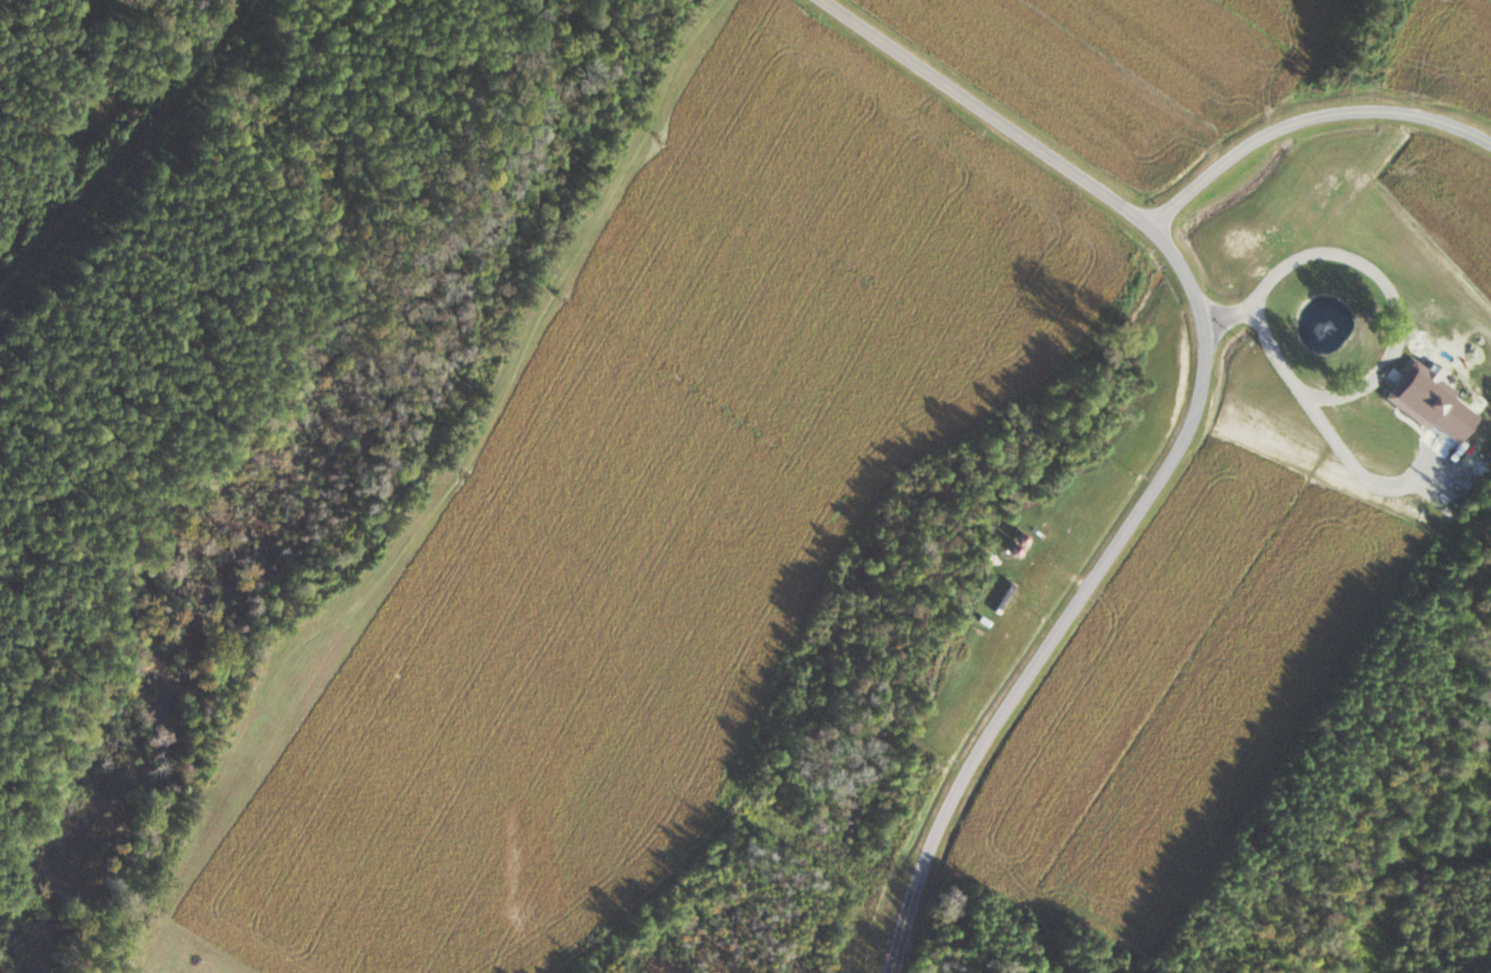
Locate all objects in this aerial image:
road: (984, 113)
road: (1307, 122)
road: (125, 149)
road: (1078, 598)

